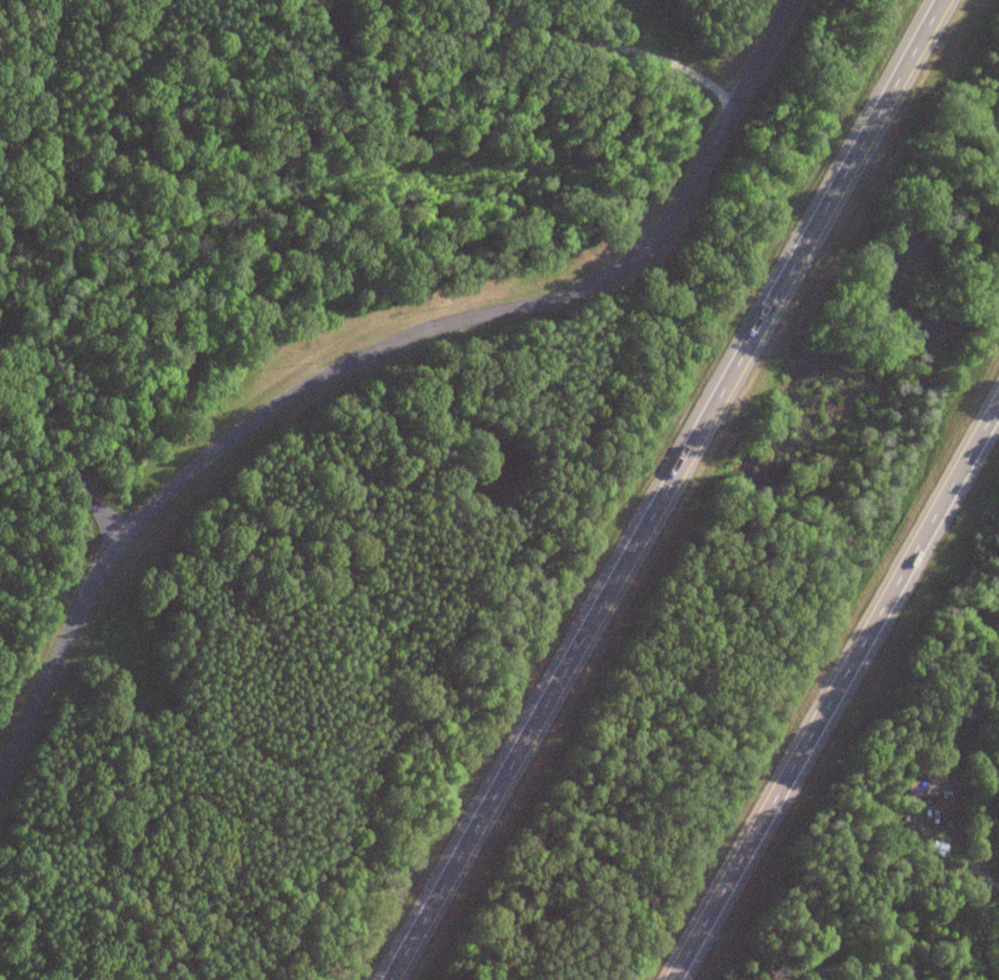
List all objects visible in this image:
road: (602, 41)
road: (371, 340)
road: (57, 433)
road: (644, 489)
road: (818, 669)
building: (922, 787)
road: (963, 812)

